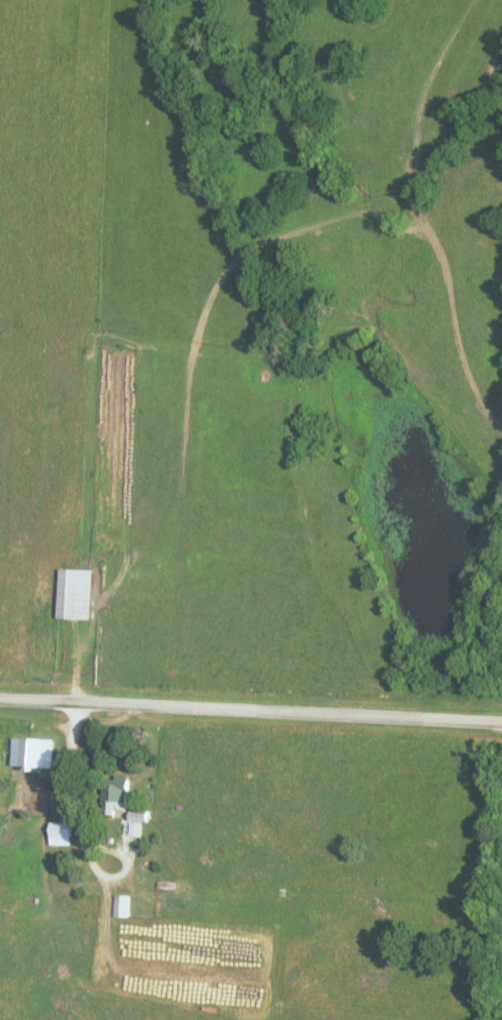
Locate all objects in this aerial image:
building: (76, 593)
road: (251, 709)
building: (31, 752)
building: (116, 791)
building: (138, 821)
building: (60, 833)
building: (121, 905)

